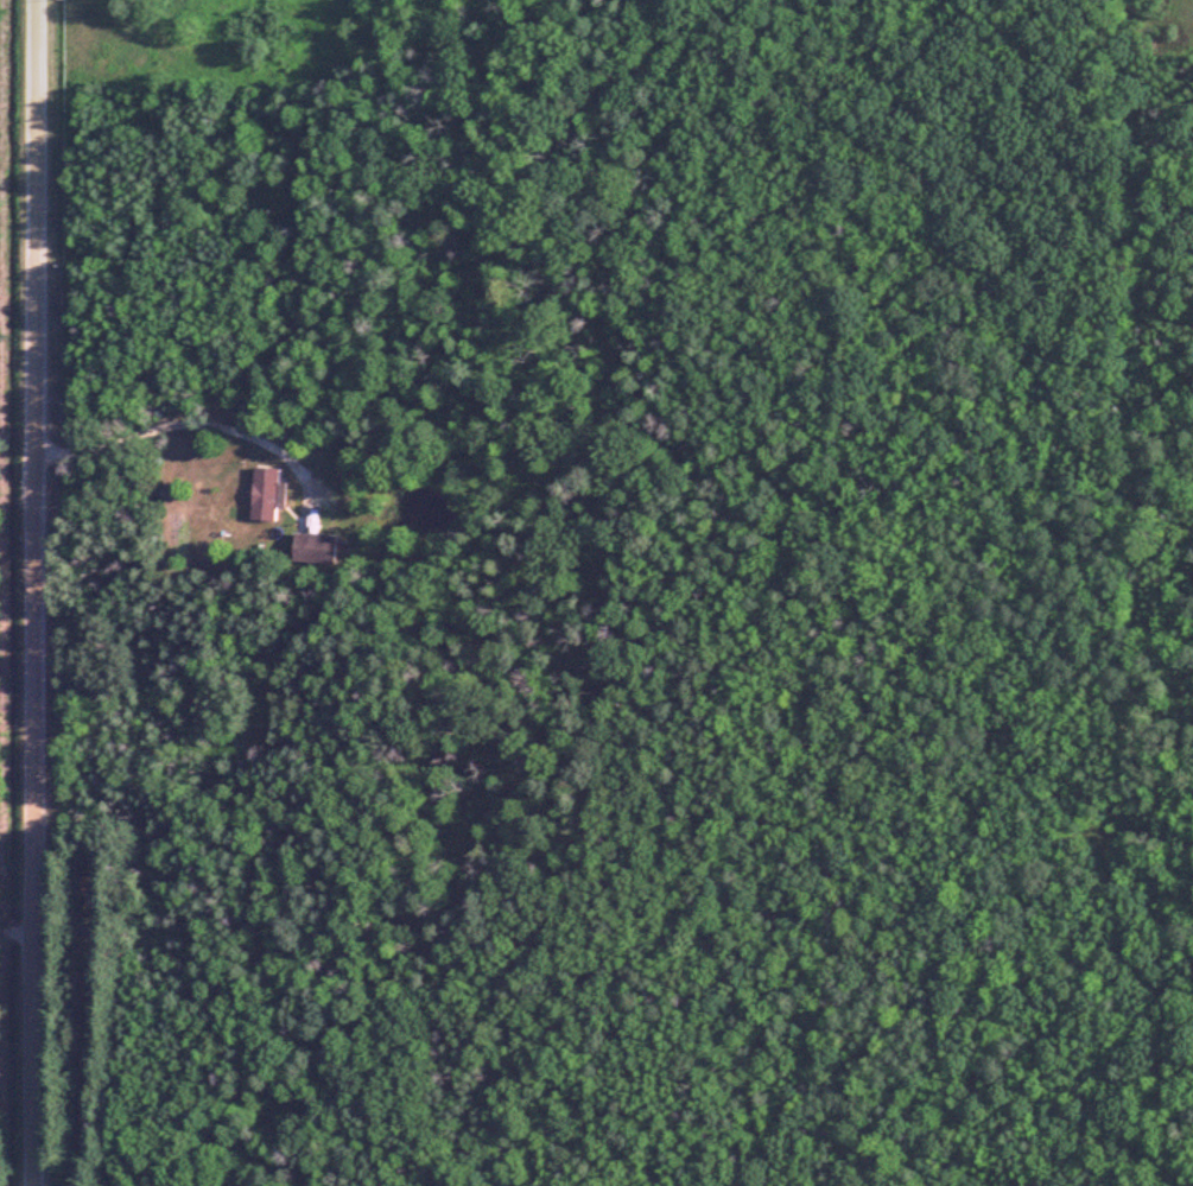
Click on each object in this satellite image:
road: (197, 420)
building: (265, 494)
building: (313, 548)
road: (39, 592)

